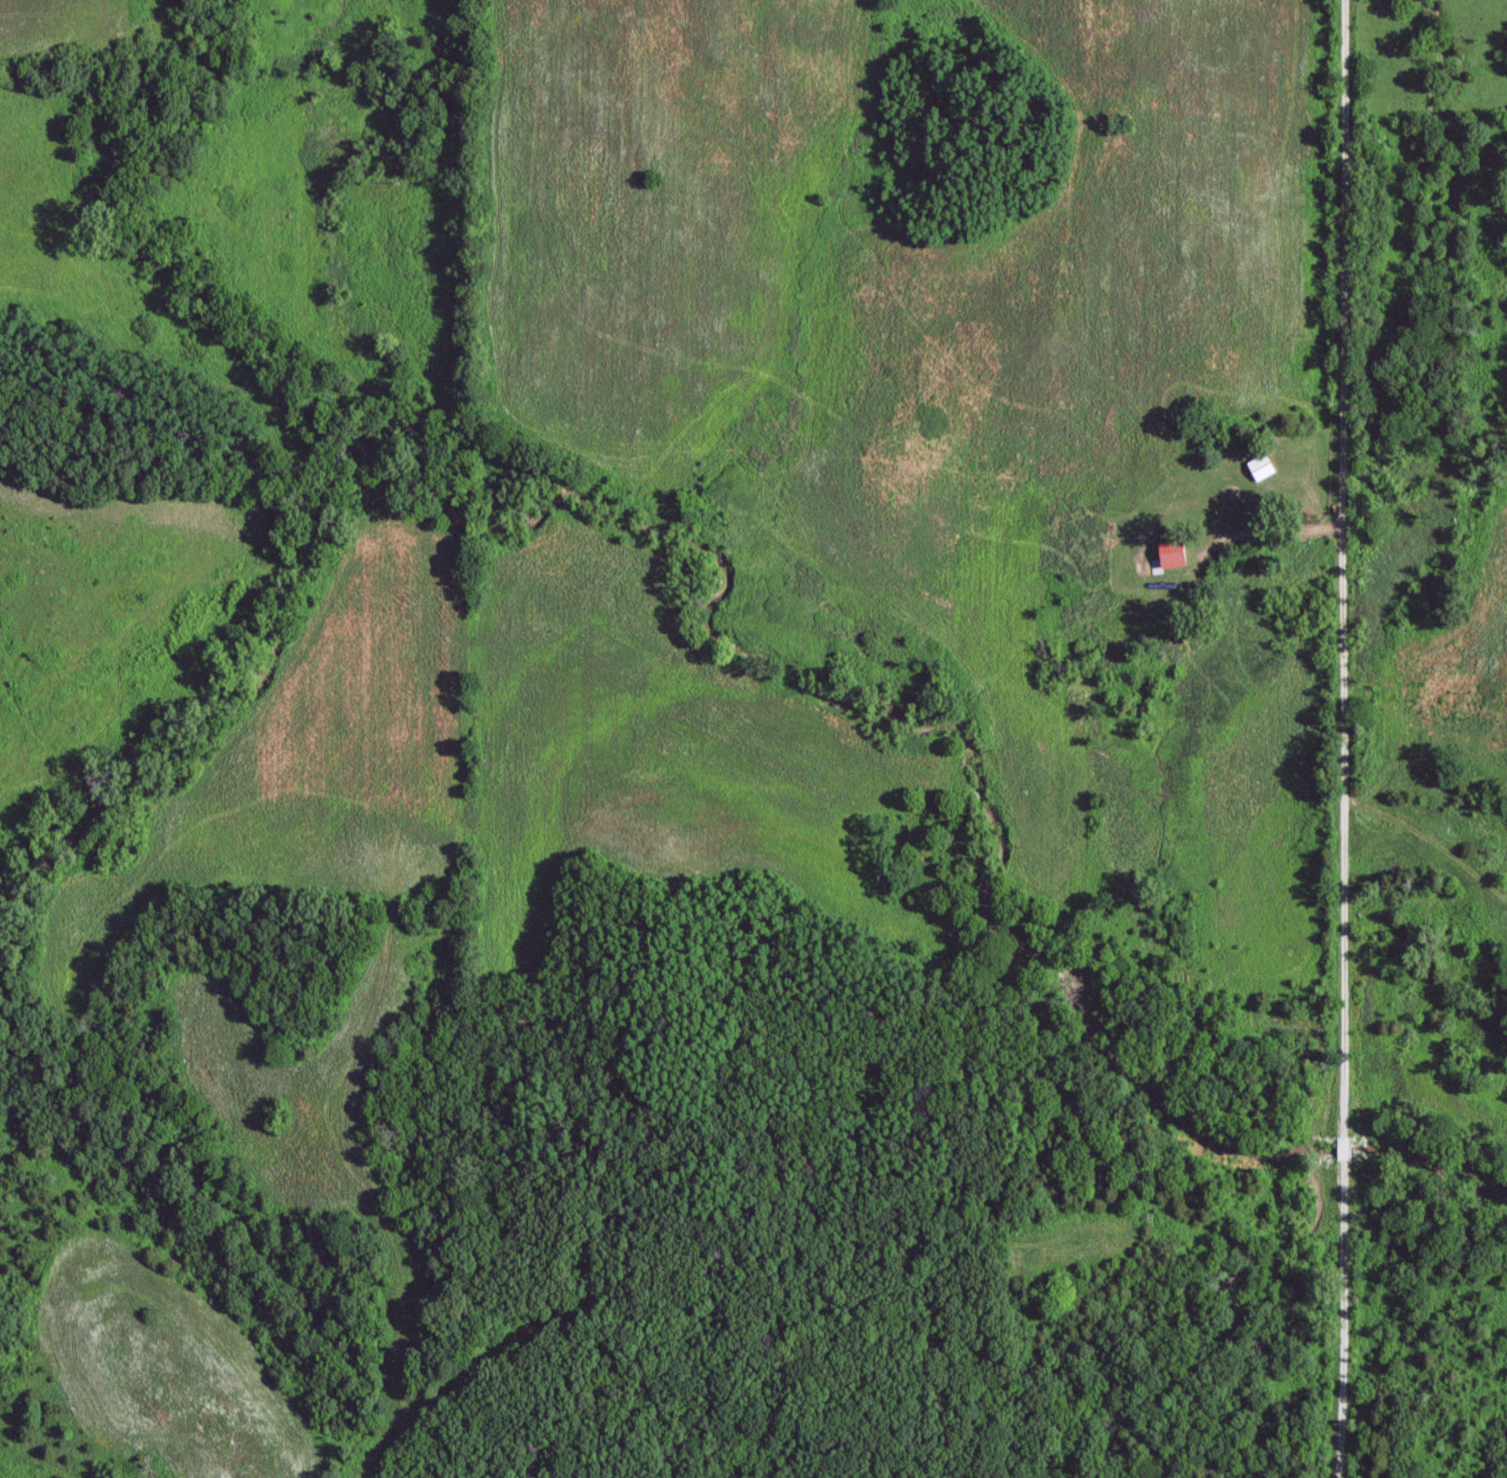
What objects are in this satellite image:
building: (1261, 468)
road: (1254, 530)
building: (1173, 555)
road: (1345, 608)
road: (1338, 1347)

